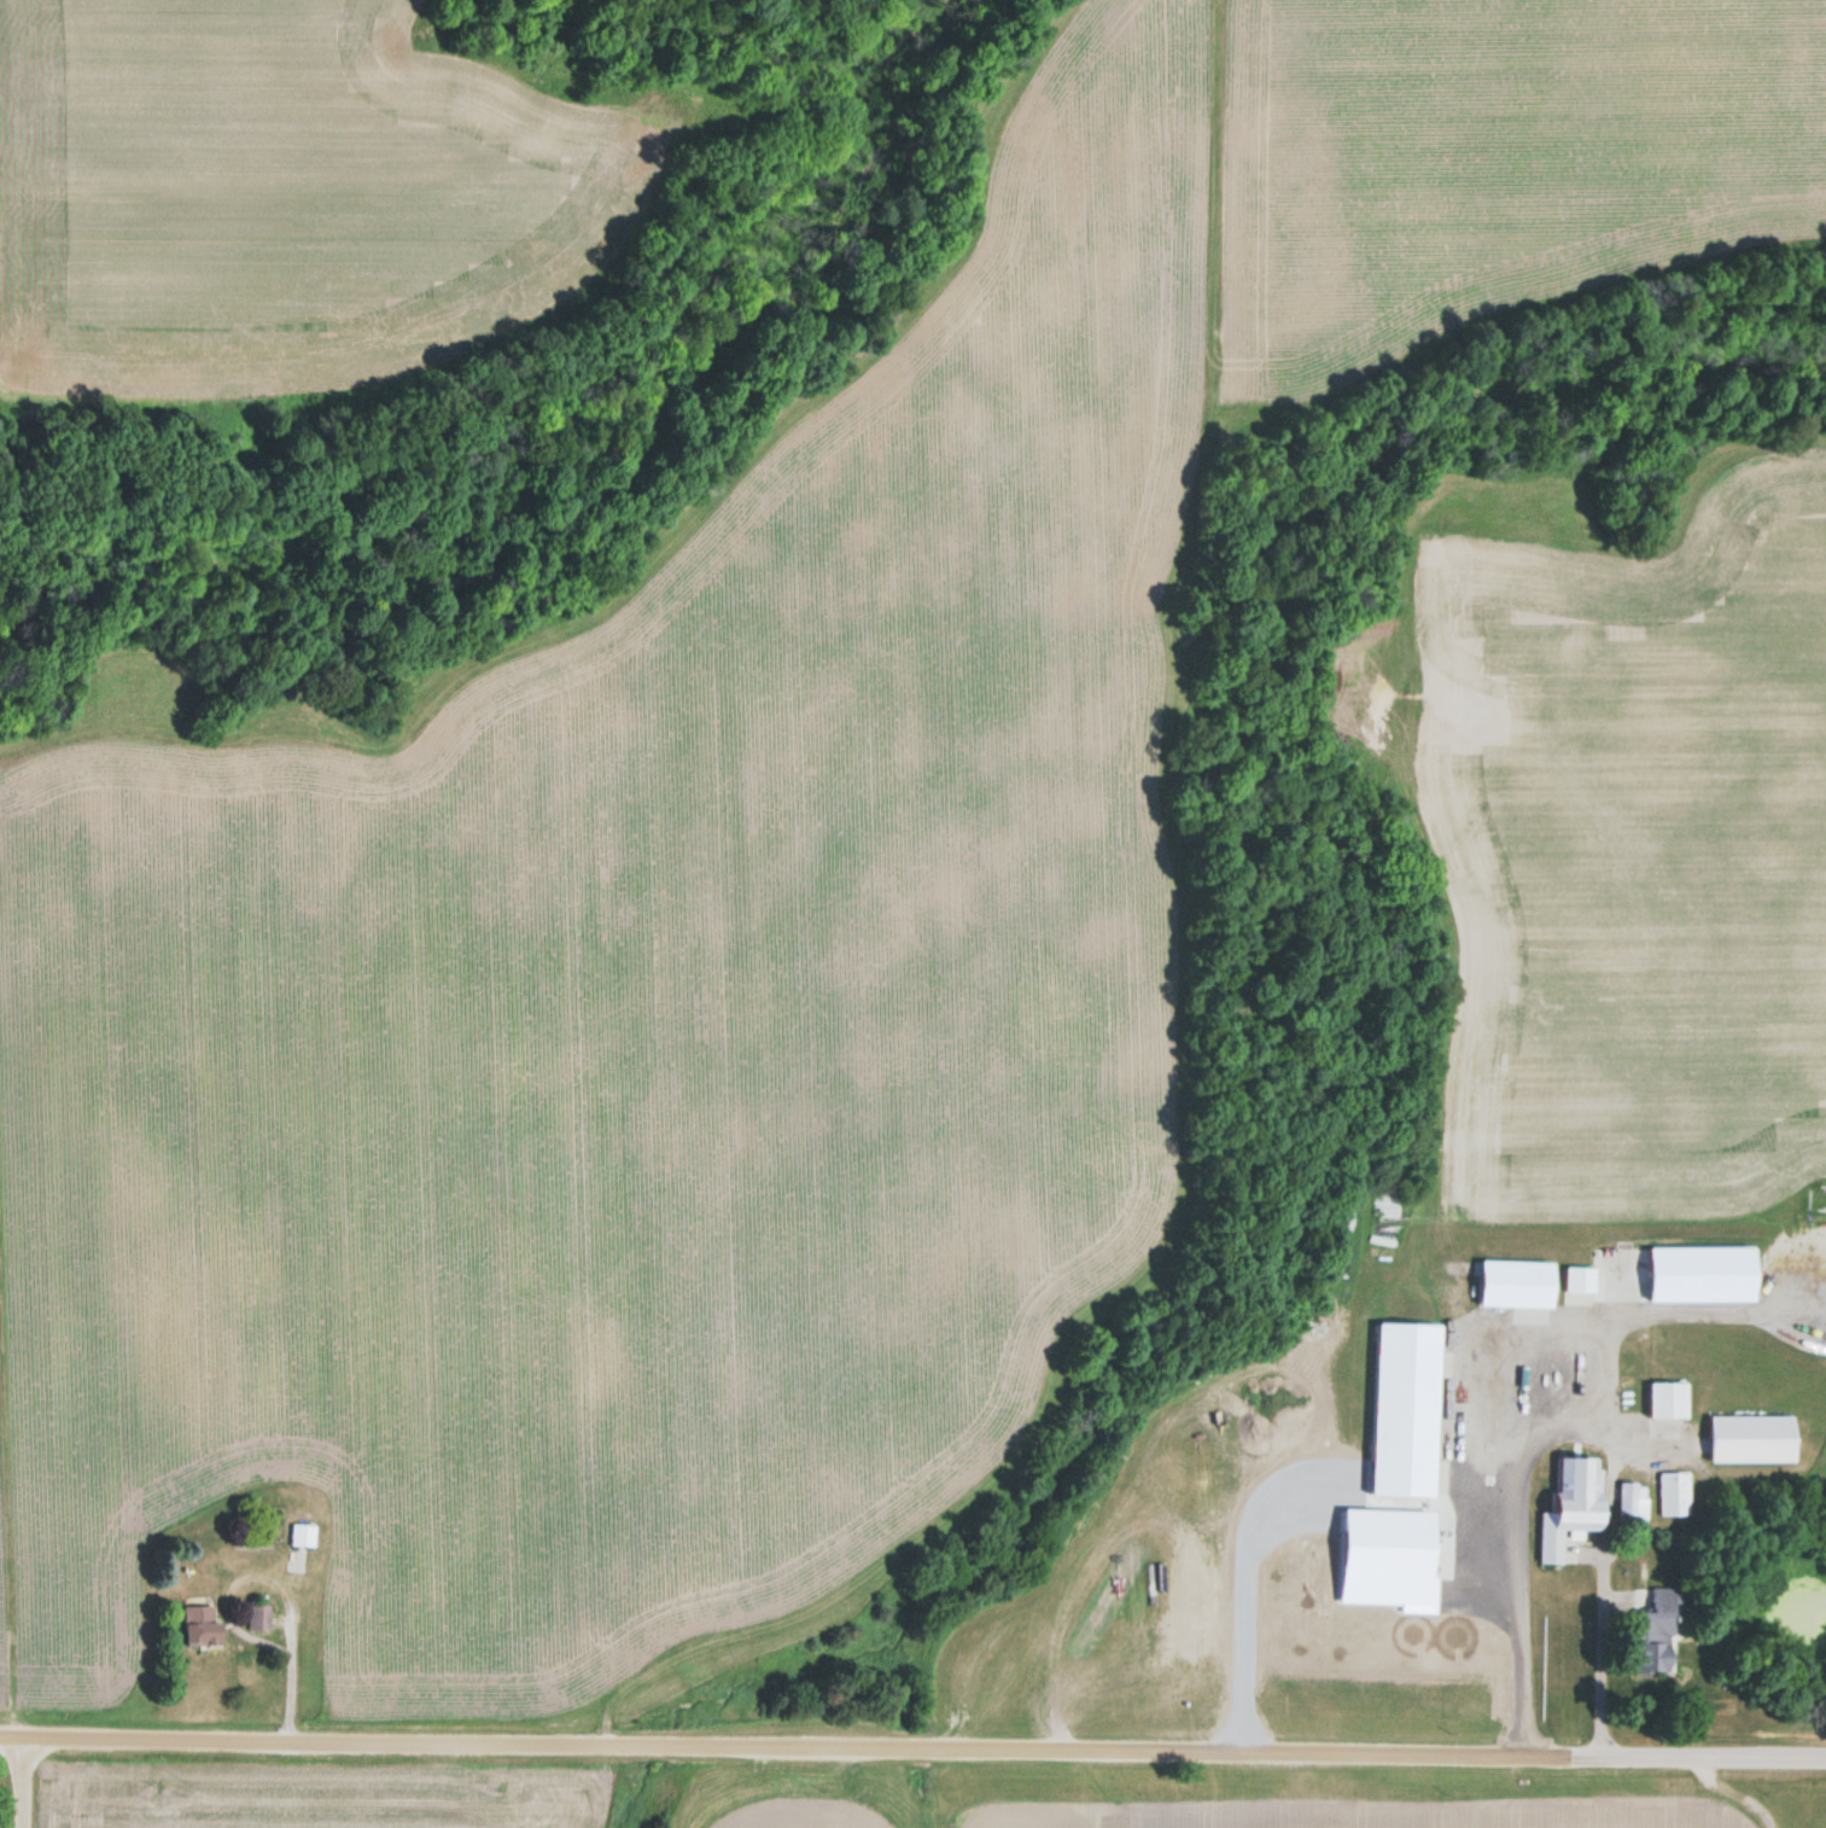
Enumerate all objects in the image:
building: (1702, 1275)
building: (1667, 1399)
building: (1405, 1410)
building: (1750, 1438)
building: (1673, 1492)
building: (1632, 1501)
building: (1573, 1502)
building: (302, 1535)
building: (258, 1617)
building: (200, 1625)
building: (1658, 1629)
road: (912, 1731)
road: (11, 1786)

